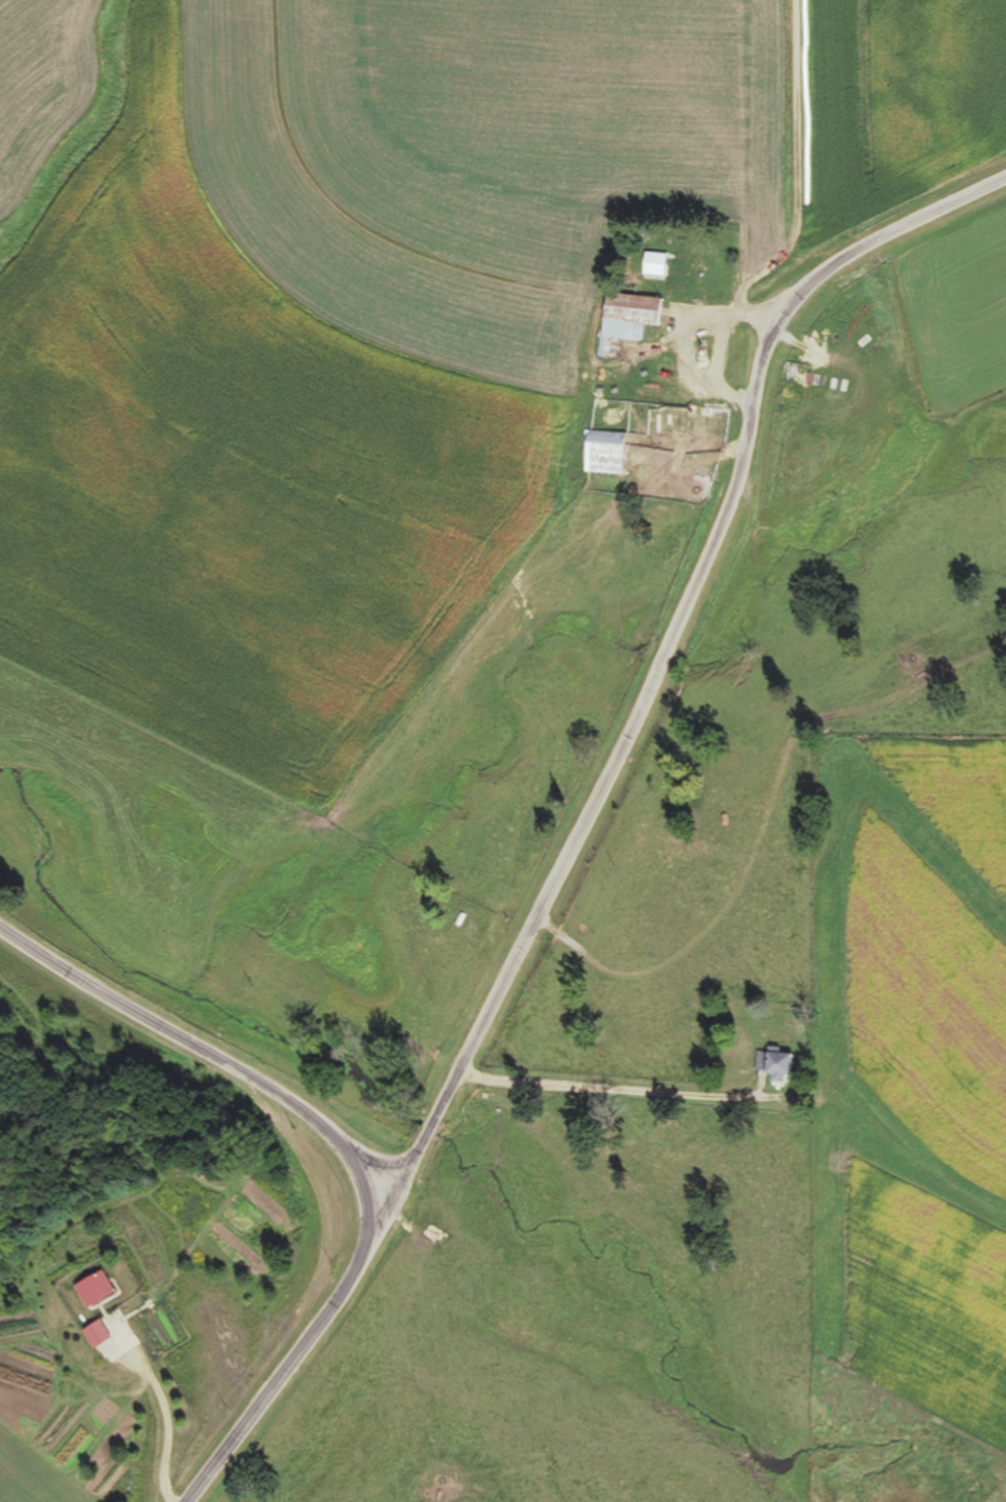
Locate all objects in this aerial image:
building: (653, 264)
building: (623, 319)
building: (601, 452)
road: (649, 626)
building: (774, 1068)
road: (347, 1159)
building: (100, 1290)
building: (100, 1335)

